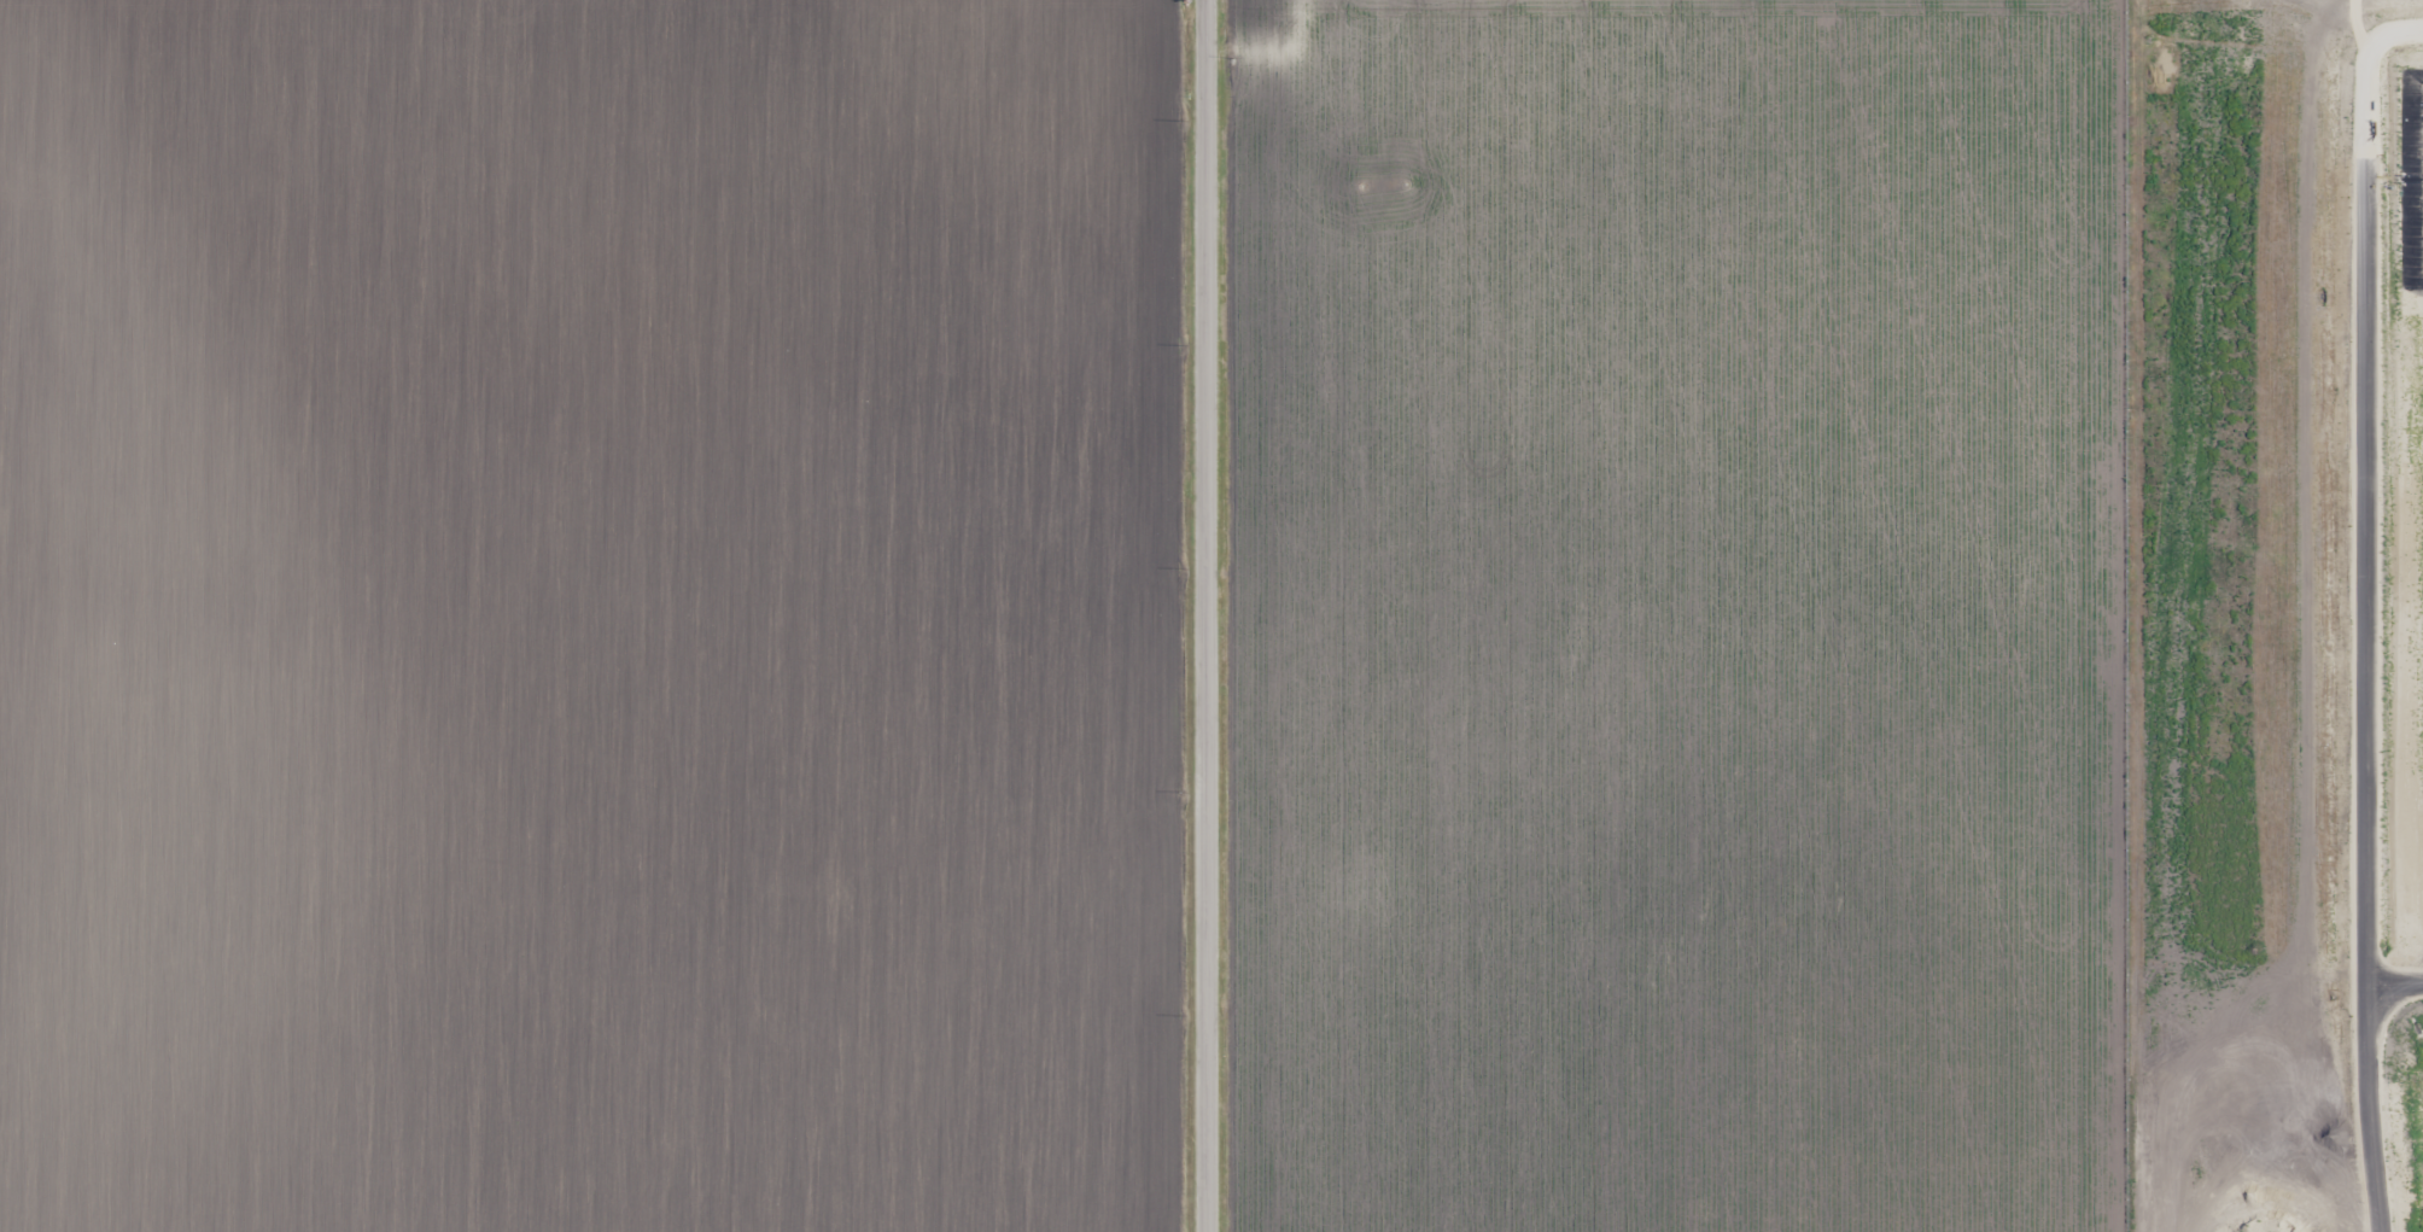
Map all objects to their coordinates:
building: (1274, 8)
building: (1323, 46)
road: (1203, 615)

